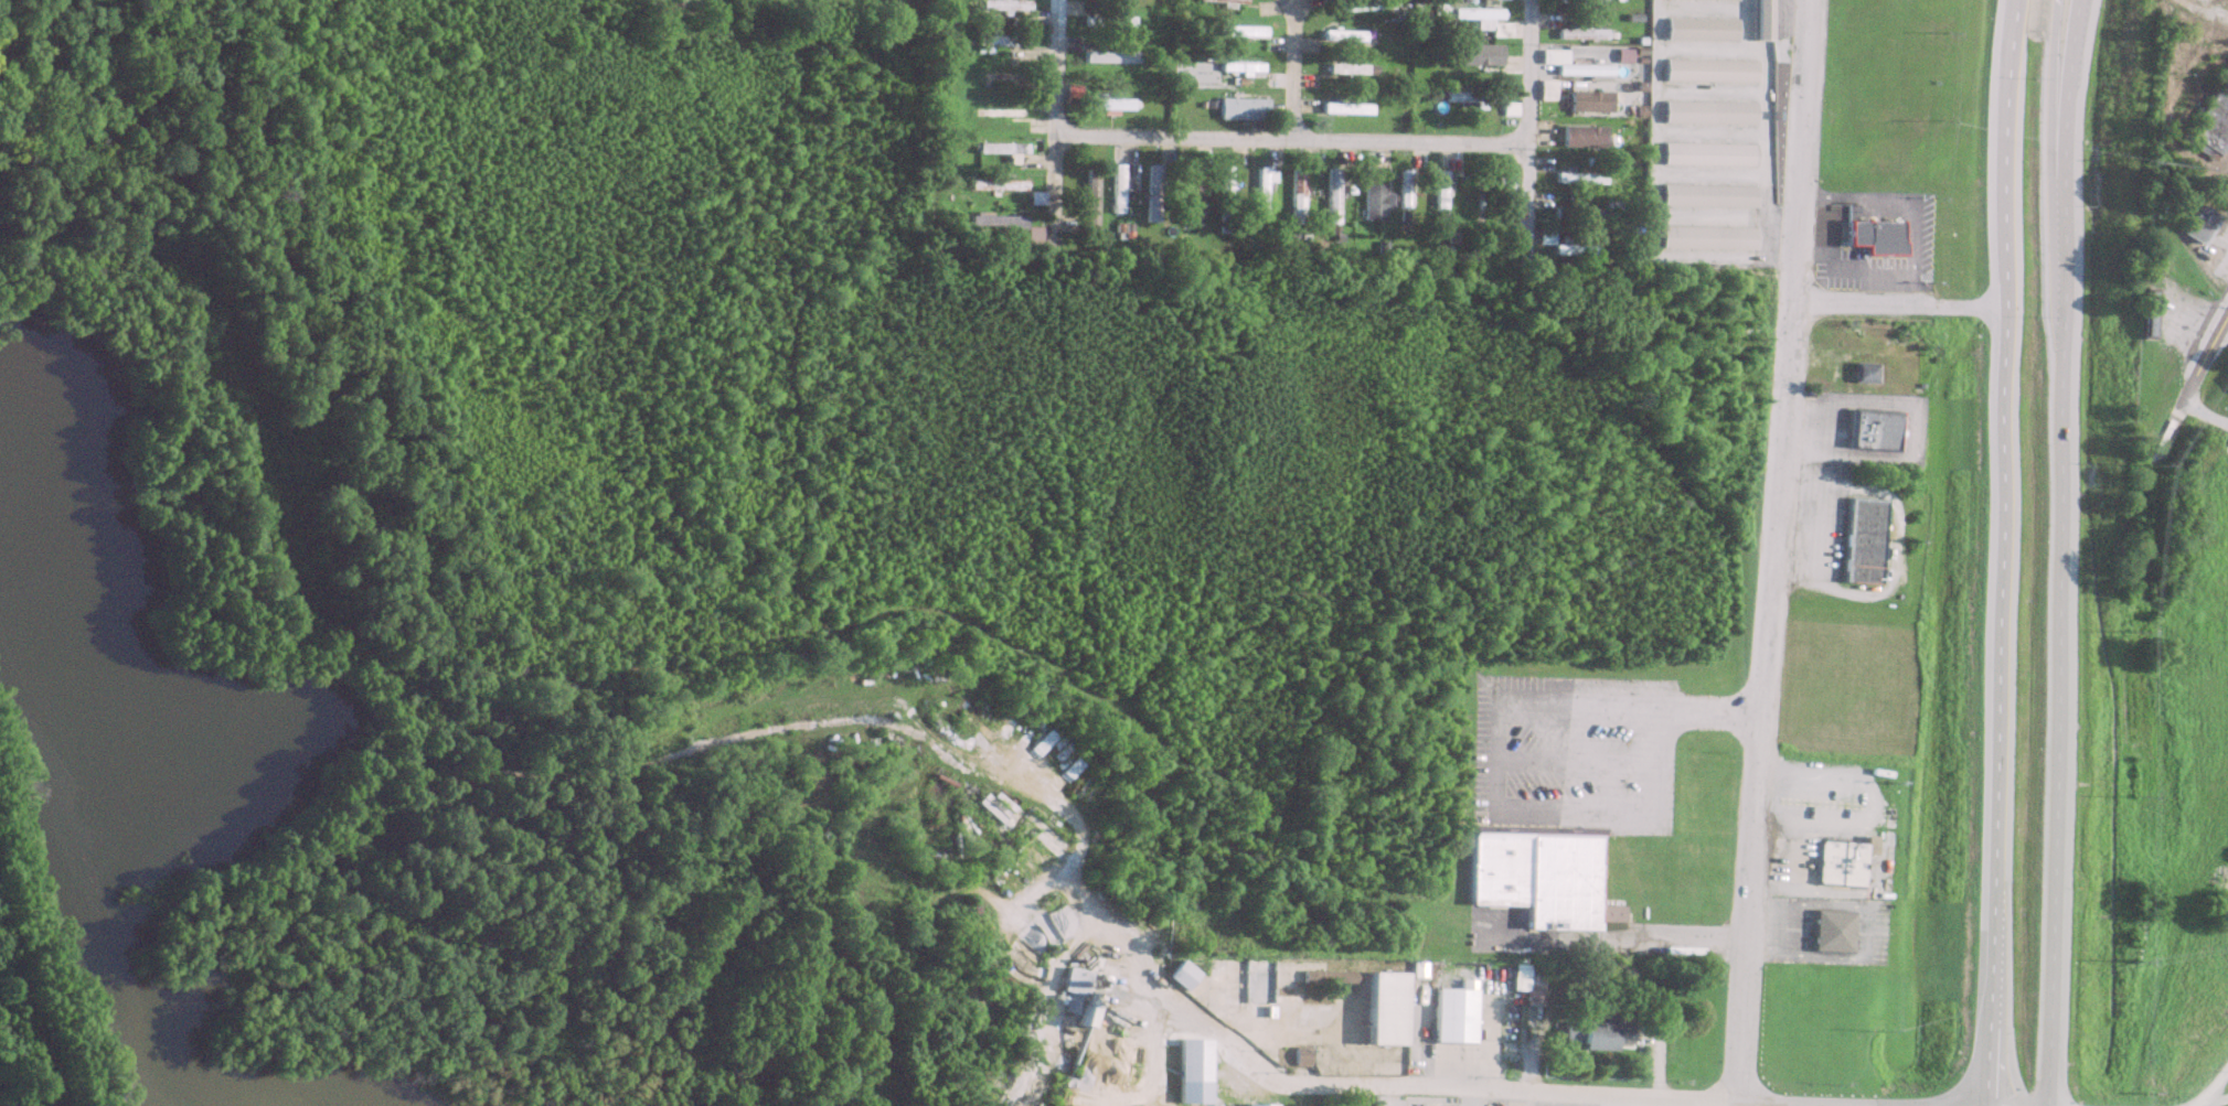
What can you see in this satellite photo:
building: (1225, 1)
building: (1578, 1)
building: (1001, 4)
building: (1360, 4)
building: (1478, 19)
building: (1762, 19)
building: (1106, 21)
building: (1699, 29)
building: (1237, 31)
building: (1578, 32)
building: (1341, 34)
building: (998, 40)
building: (1478, 54)
building: (1108, 56)
building: (1570, 64)
building: (1238, 68)
building: (1348, 68)
road: (1296, 69)
building: (1709, 69)
building: (1544, 89)
building: (1470, 96)
building: (1587, 100)
building: (1104, 103)
building: (1240, 108)
building: (1343, 108)
building: (1507, 108)
building: (1708, 111)
building: (1002, 112)
road: (1047, 114)
road: (2058, 118)
road: (1525, 119)
building: (2210, 121)
building: (1580, 136)
road: (1286, 139)
building: (999, 149)
building: (1707, 153)
building: (1577, 178)
building: (994, 184)
building: (1116, 189)
building: (1151, 189)
building: (1403, 189)
building: (1223, 192)
building: (1260, 192)
building: (1330, 194)
building: (1438, 194)
building: (1294, 195)
building: (1706, 195)
building: (1088, 197)
building: (1034, 198)
building: (1372, 202)
building: (1190, 204)
building: (1574, 212)
building: (994, 221)
building: (2196, 225)
building: (1876, 236)
building: (1705, 237)
building: (1563, 244)
road: (1902, 308)
building: (2146, 313)
building: (1863, 374)
road: (2181, 396)
road: (2202, 414)
building: (1872, 430)
building: (1861, 540)
road: (1780, 551)
road: (1998, 552)
road: (2058, 552)
road: (1665, 804)
building: (1840, 863)
building: (1537, 876)
building: (1831, 932)
road: (1623, 938)
building: (1181, 975)
building: (1257, 982)
building: (1072, 988)
road: (1171, 992)
building: (1383, 1009)
building: (1452, 1016)
building: (1592, 1034)
building: (1192, 1072)
road: (2214, 1085)
road: (1578, 1095)
road: (1578, 1100)
road: (2216, 1103)
road: (1737, 1104)
building: (1258, 1105)

